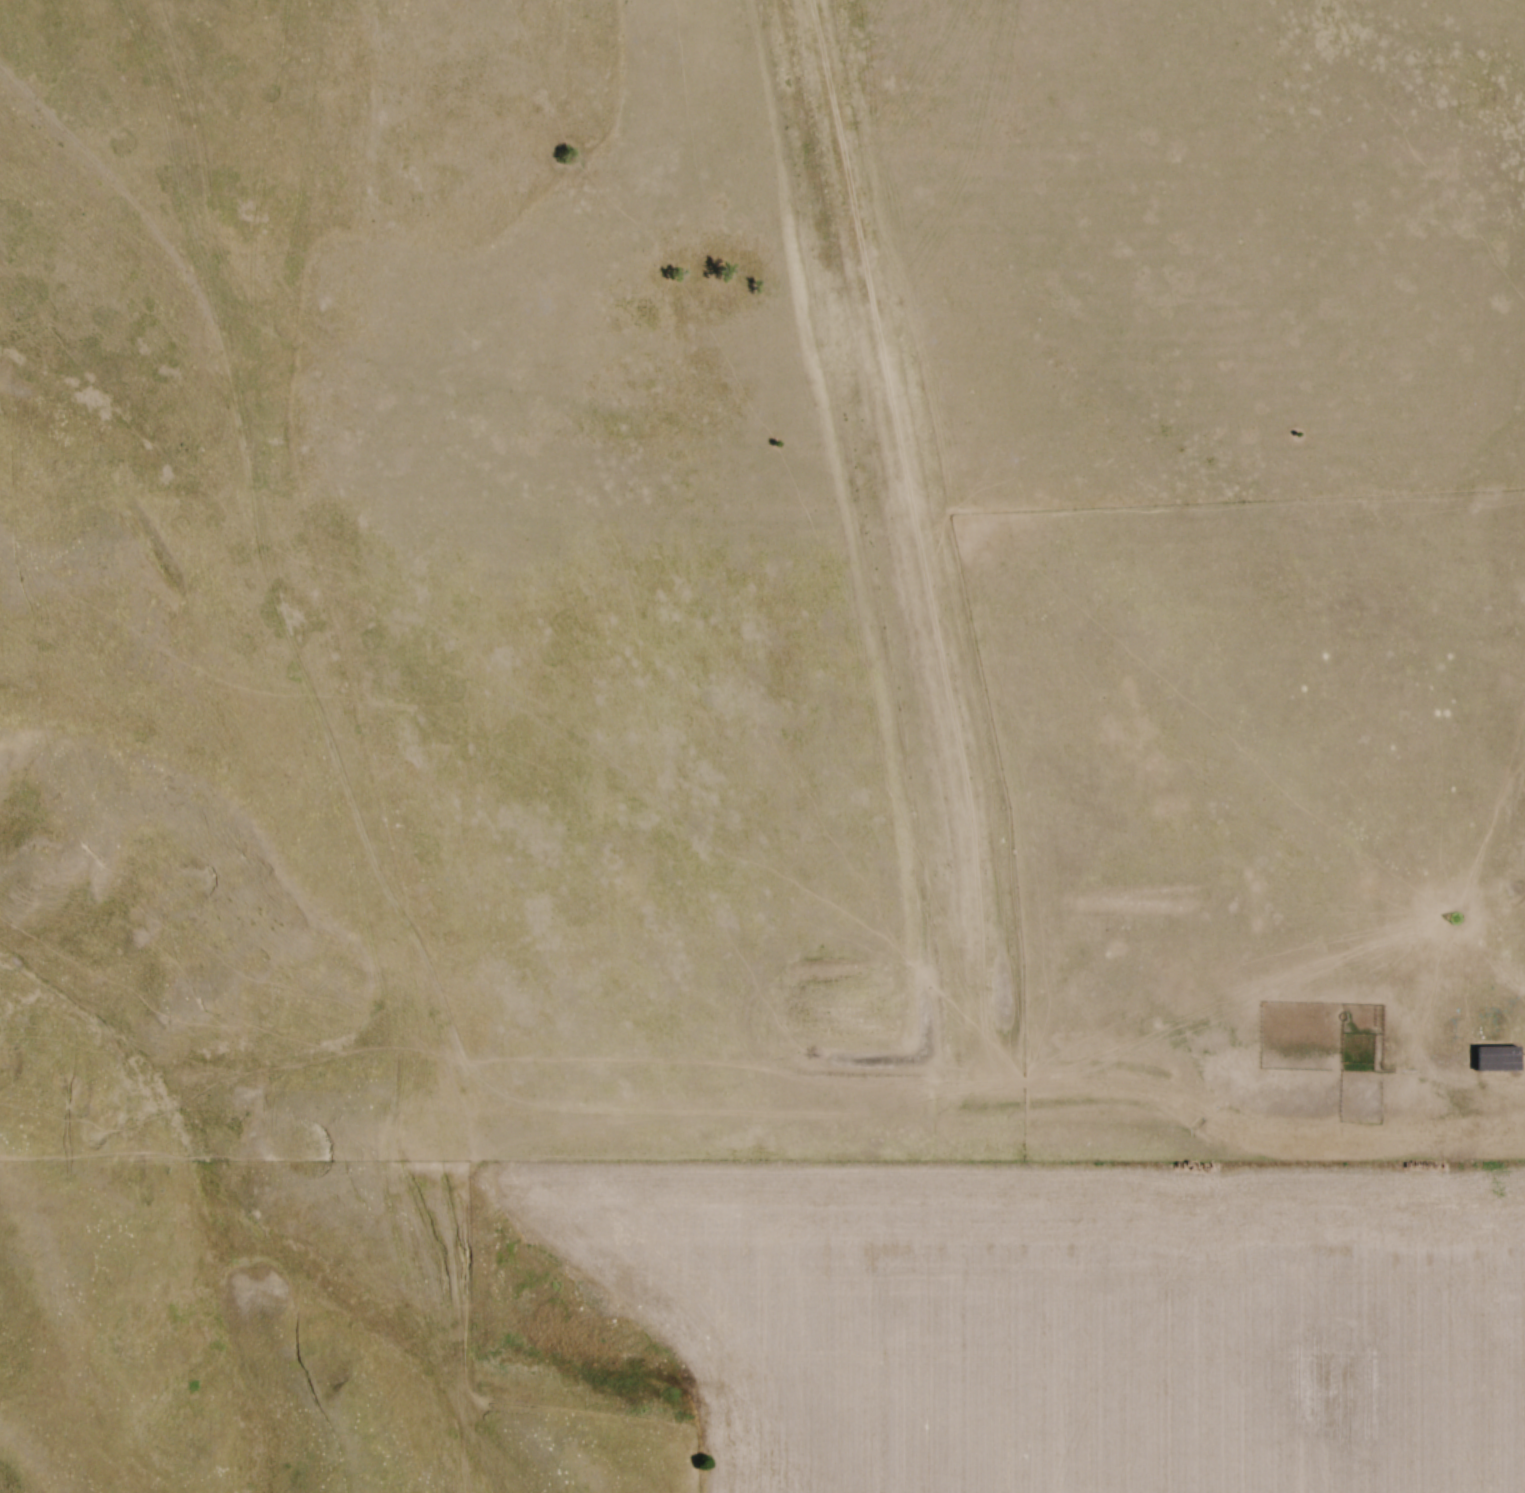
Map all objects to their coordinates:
building: (1494, 1059)

